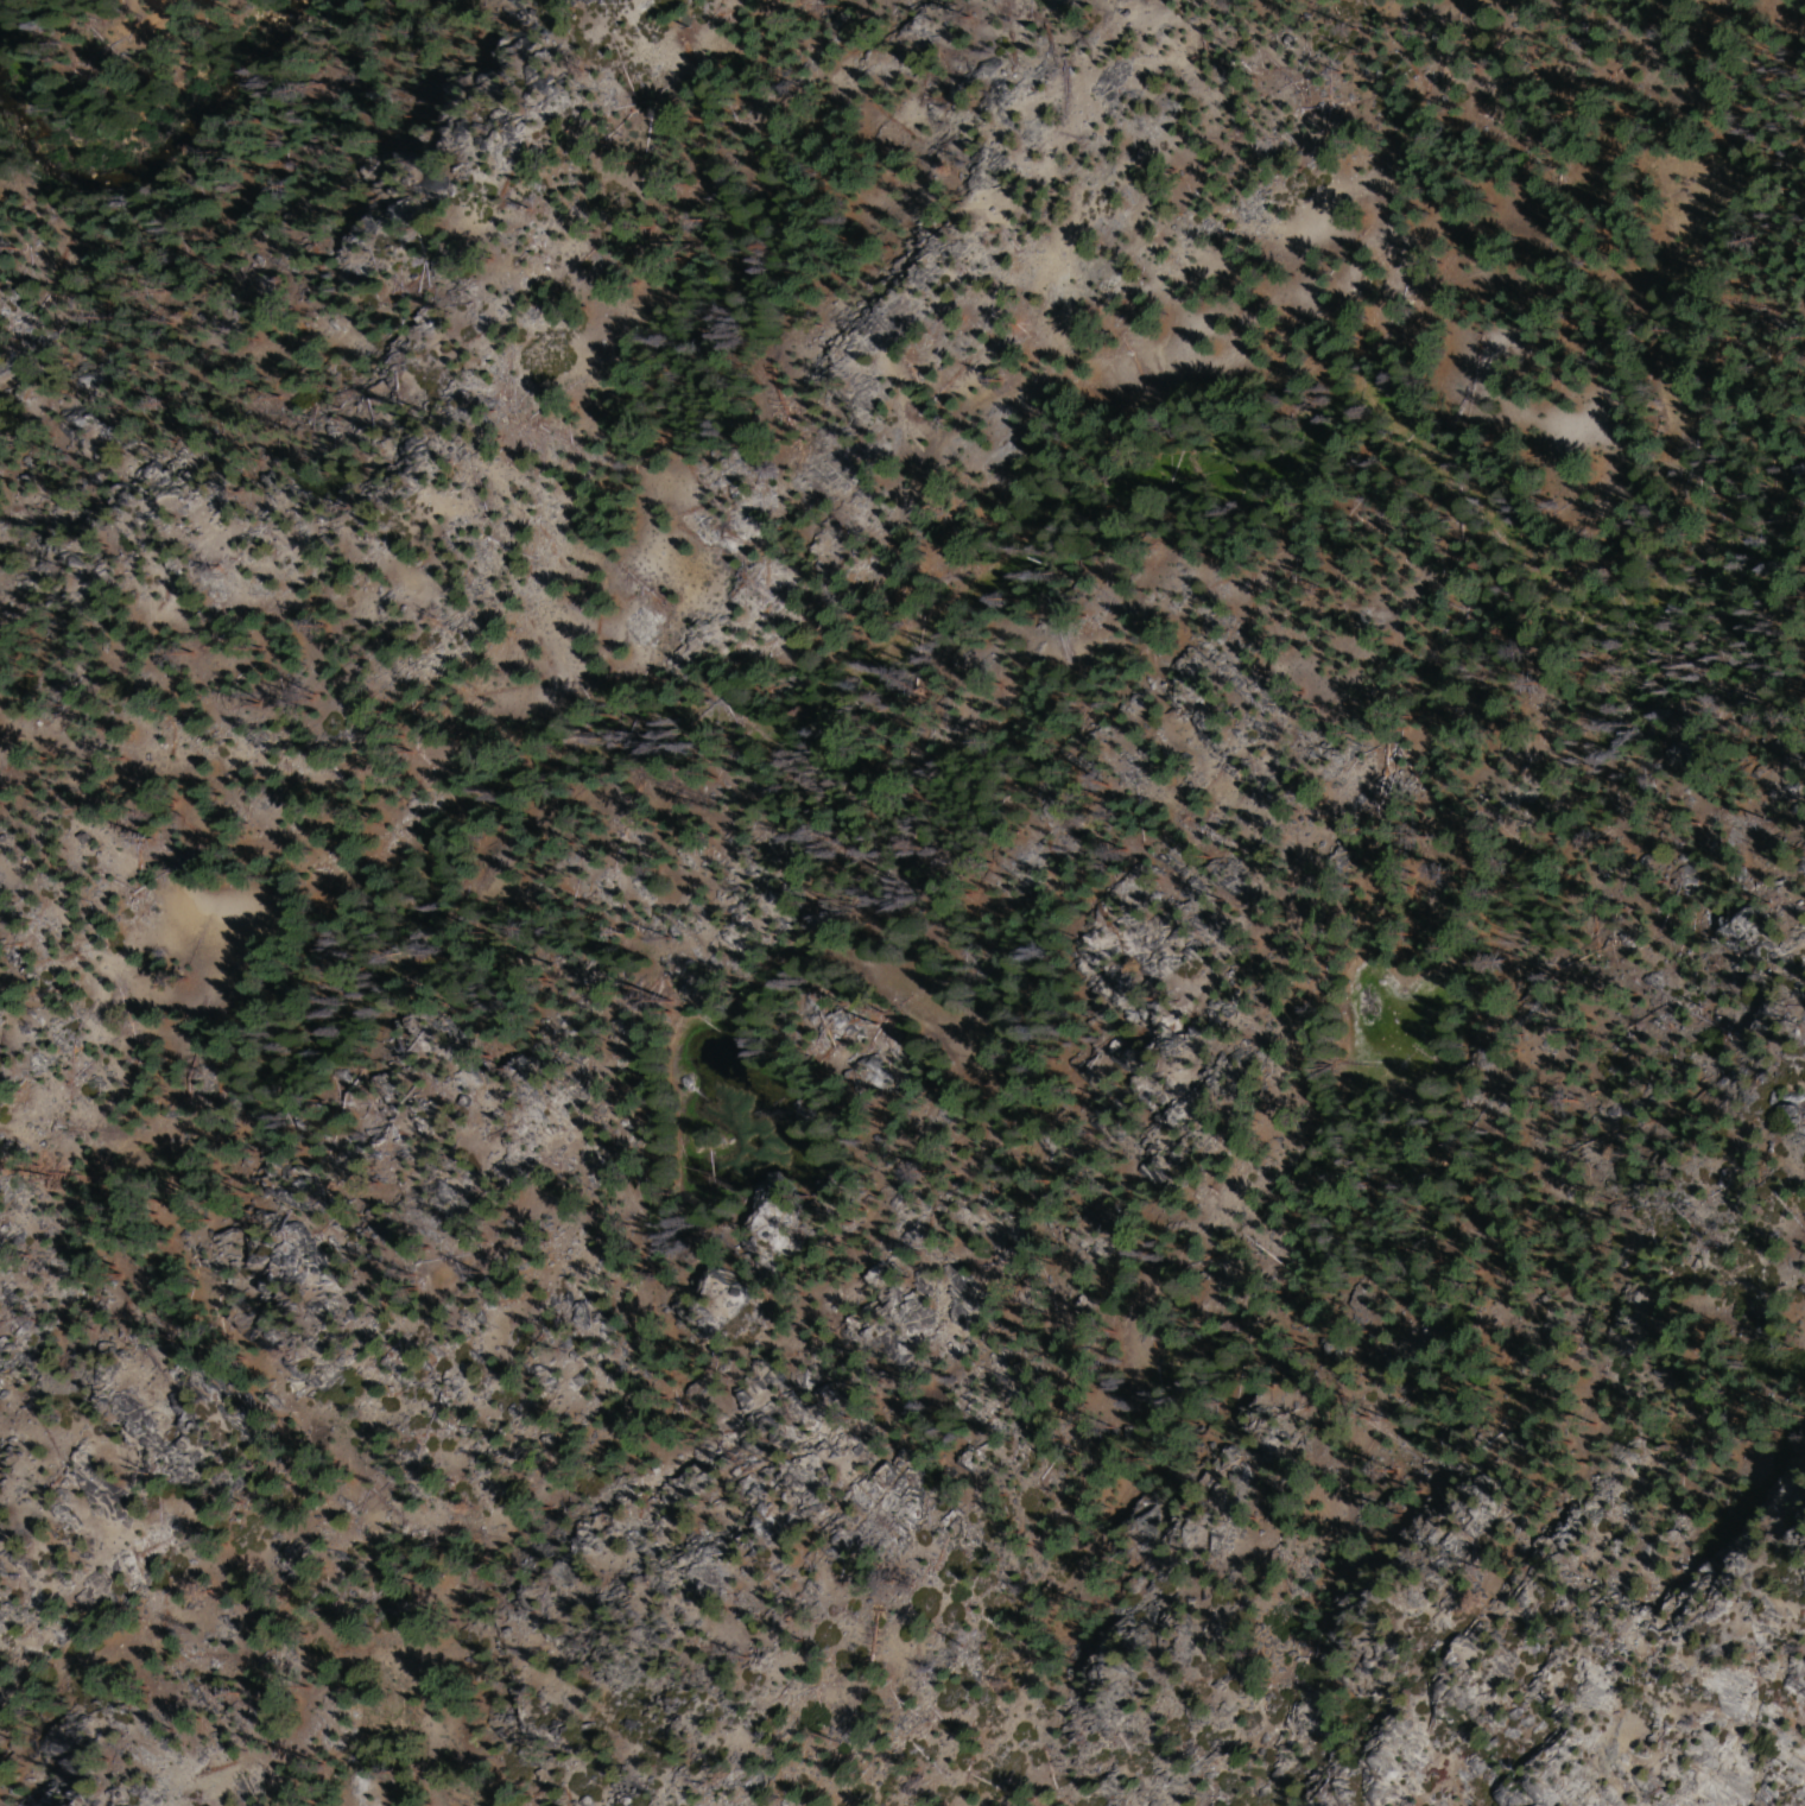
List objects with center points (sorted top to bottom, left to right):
road: (935, 544)

